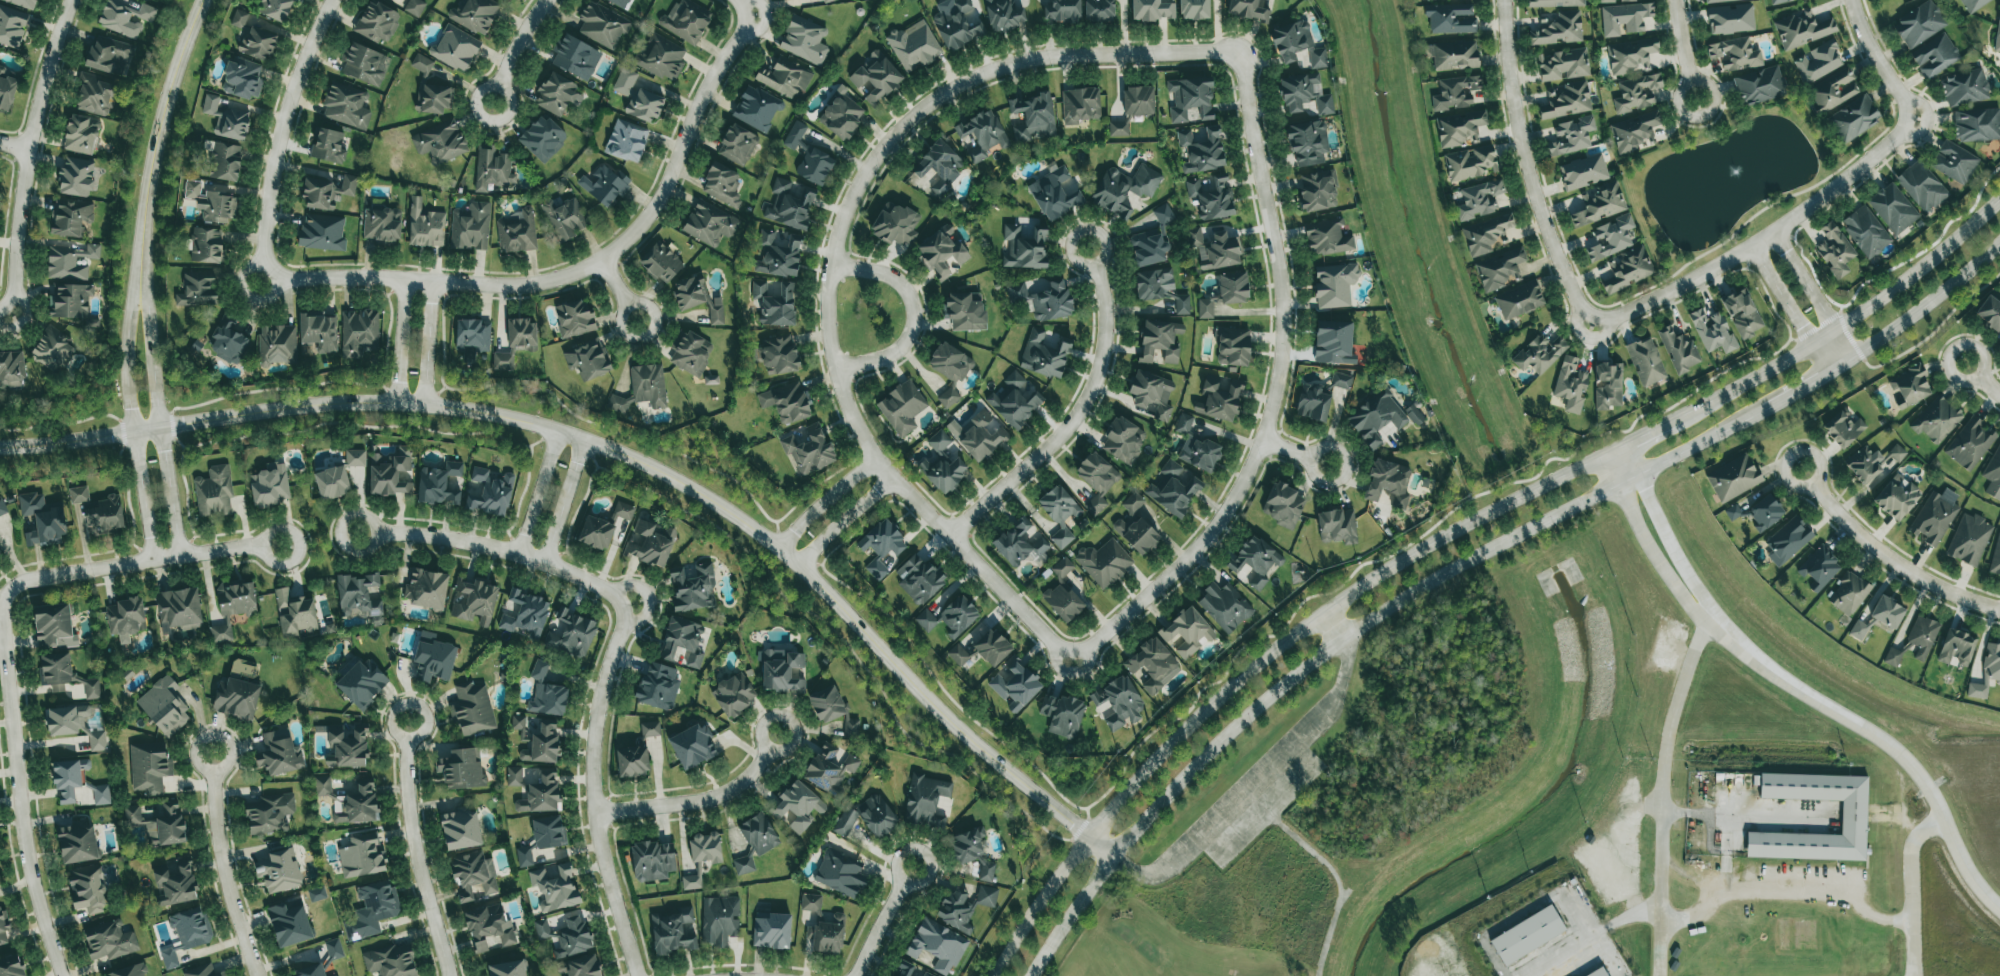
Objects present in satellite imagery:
building: (504, 0)
building: (784, 0)
building: (1719, 0)
building: (827, 1)
building: (1614, 1)
building: (1778, 2)
building: (22, 3)
building: (619, 3)
building: (1555, 3)
building: (1972, 4)
road: (746, 6)
building: (414, 7)
building: (274, 9)
building: (1193, 9)
building: (1249, 9)
building: (1061, 10)
building: (1098, 10)
building: (1152, 10)
building: (474, 15)
building: (1003, 15)
building: (124, 18)
building: (239, 18)
building: (1450, 18)
building: (1624, 18)
building: (1730, 19)
building: (686, 20)
building: (377, 22)
building: (956, 23)
building: (1919, 24)
building: (602, 25)
building: (12, 26)
building: (1558, 29)
building: (1802, 29)
building: (1998, 35)
building: (804, 40)
building: (257, 43)
building: (914, 45)
building: (1296, 45)
building: (455, 48)
road: (1683, 48)
road: (514, 49)
building: (1734, 54)
building: (109, 55)
building: (1455, 55)
building: (1631, 56)
building: (1935, 56)
building: (575, 57)
building: (1818, 61)
road: (1878, 61)
building: (364, 64)
building: (421, 64)
building: (1562, 65)
building: (784, 77)
building: (876, 77)
building: (242, 78)
building: (624, 82)
building: (1758, 86)
building: (1964, 88)
building: (6, 90)
building: (1833, 90)
building: (1455, 92)
building: (1636, 93)
building: (557, 94)
building: (1304, 94)
building: (94, 95)
building: (435, 98)
building: (1190, 99)
building: (1566, 100)
building: (1138, 101)
building: (644, 105)
building: (1080, 105)
building: (346, 106)
building: (756, 108)
road: (163, 114)
building: (841, 115)
building: (1033, 117)
building: (226, 118)
building: (1853, 119)
building: (1976, 125)
building: (1118, 127)
building: (1459, 128)
road: (280, 129)
building: (1633, 132)
building: (81, 134)
building: (794, 135)
building: (983, 135)
building: (1571, 136)
building: (542, 138)
building: (626, 141)
building: (440, 142)
building: (1307, 142)
road: (14, 145)
building: (737, 145)
building: (328, 146)
building: (1201, 150)
road: (26, 155)
building: (224, 161)
building: (1954, 162)
building: (1470, 163)
building: (814, 166)
building: (938, 166)
road: (1527, 167)
building: (492, 168)
building: (1583, 172)
building: (76, 177)
fountain: (1736, 178)
building: (604, 184)
building: (722, 185)
building: (1921, 186)
building: (1123, 189)
building: (1316, 191)
building: (326, 192)
building: (1054, 194)
building: (1211, 198)
building: (1479, 200)
building: (789, 205)
building: (1600, 205)
building: (1892, 208)
building: (70, 217)
building: (563, 218)
building: (381, 224)
building: (709, 224)
building: (894, 224)
building: (425, 226)
building: (470, 227)
building: (516, 231)
building: (1865, 231)
building: (322, 232)
building: (1486, 234)
building: (1328, 237)
building: (1610, 238)
building: (1152, 240)
road: (1761, 240)
building: (206, 245)
building: (1025, 247)
building: (1214, 249)
building: (1834, 249)
road: (833, 251)
building: (941, 252)
building: (777, 255)
building: (70, 261)
building: (660, 262)
building: (1499, 269)
road: (580, 270)
building: (1629, 270)
building: (1334, 285)
building: (197, 288)
building: (1160, 288)
road: (619, 291)
building: (1225, 293)
road: (245, 294)
road: (1814, 294)
building: (698, 298)
building: (1042, 299)
building: (1519, 300)
building: (70, 301)
building: (774, 304)
road: (1925, 306)
road: (1791, 309)
building: (965, 311)
road: (910, 312)
building: (1742, 313)
building: (1989, 313)
road: (5, 316)
building: (574, 318)
road: (147, 330)
building: (318, 331)
road: (125, 332)
building: (358, 332)
building: (1712, 332)
building: (521, 333)
building: (472, 337)
building: (228, 340)
building: (1160, 340)
road: (400, 342)
building: (1332, 342)
road: (427, 343)
building: (276, 345)
building: (1232, 346)
building: (53, 350)
building: (1679, 350)
road: (1953, 350)
building: (691, 353)
building: (1539, 353)
building: (1044, 354)
building: (777, 355)
building: (587, 359)
building: (502, 361)
building: (1646, 362)
building: (11, 369)
building: (950, 370)
building: (1341, 380)
building: (1570, 384)
building: (1608, 386)
road: (1802, 386)
building: (1910, 386)
building: (643, 388)
road: (1993, 389)
road: (1275, 392)
building: (1151, 393)
building: (1218, 398)
building: (1015, 400)
building: (786, 402)
building: (1311, 403)
building: (901, 408)
building: (1413, 415)
road: (1075, 416)
building: (1376, 418)
building: (1936, 419)
building: (1183, 423)
building: (1843, 428)
building: (977, 435)
building: (1123, 440)
building: (1970, 444)
building: (809, 450)
road: (1294, 452)
building: (1896, 453)
building: (1201, 455)
road: (623, 456)
building: (355, 458)
building: (1864, 464)
building: (942, 465)
building: (391, 474)
building: (1993, 474)
building: (1733, 478)
building: (1096, 479)
building: (332, 482)
building: (1388, 482)
building: (438, 484)
building: (269, 486)
building: (1171, 489)
road: (171, 491)
road: (537, 491)
building: (213, 492)
building: (490, 493)
road: (1526, 493)
building: (78, 495)
road: (140, 496)
building: (1896, 497)
road: (564, 501)
road: (822, 501)
building: (1132, 502)
building: (1283, 505)
building: (2, 507)
building: (1765, 512)
building: (1059, 513)
building: (1732, 513)
building: (106, 514)
building: (1934, 517)
building: (42, 520)
road: (842, 520)
building: (1337, 526)
building: (603, 527)
road: (1663, 531)
building: (1136, 535)
building: (1969, 539)
building: (1788, 540)
road: (1645, 541)
building: (651, 543)
building: (1020, 545)
building: (881, 546)
road: (493, 549)
road: (1887, 556)
building: (1996, 557)
building: (1255, 561)
road: (136, 562)
building: (1103, 562)
building: (1061, 568)
building: (1818, 568)
building: (918, 579)
building: (692, 588)
building: (426, 589)
road: (1410, 594)
building: (1849, 594)
building: (358, 595)
road: (646, 596)
building: (236, 599)
building: (1063, 602)
building: (1225, 606)
building: (178, 609)
building: (1887, 612)
building: (294, 613)
building: (525, 613)
building: (949, 617)
building: (125, 618)
building: (53, 624)
building: (1858, 630)
building: (1187, 631)
building: (220, 633)
building: (571, 634)
building: (682, 641)
building: (1915, 641)
building: (991, 647)
building: (1956, 647)
building: (958, 655)
building: (433, 658)
building: (1153, 665)
building: (539, 670)
building: (782, 671)
building: (1987, 672)
building: (64, 674)
building: (361, 682)
building: (1015, 685)
building: (658, 686)
building: (734, 694)
building: (236, 699)
building: (548, 699)
building: (1118, 702)
building: (164, 706)
building: (472, 710)
building: (833, 710)
building: (1061, 715)
building: (67, 719)
building: (520, 727)
building: (650, 729)
road: (1880, 738)
building: (97, 741)
building: (542, 743)
building: (693, 746)
building: (279, 753)
building: (632, 761)
building: (149, 767)
building: (462, 769)
building: (829, 769)
building: (515, 776)
building: (68, 779)
road: (1251, 780)
building: (322, 786)
road: (592, 789)
road: (1659, 791)
road: (17, 792)
building: (541, 793)
parking lot: (1253, 793)
building: (101, 794)
road: (699, 801)
building: (925, 801)
building: (357, 805)
building: (798, 806)
building: (269, 813)
building: (132, 815)
building: (867, 817)
building: (1854, 817)
building: (165, 826)
building: (460, 828)
building: (548, 831)
building: (759, 834)
building: (77, 841)
building: (705, 848)
road: (414, 851)
building: (972, 852)
building: (362, 855)
building: (524, 856)
building: (652, 861)
building: (743, 865)
road: (222, 866)
building: (280, 871)
building: (840, 873)
building: (473, 875)
building: (692, 880)
building: (175, 884)
building: (555, 887)
building: (87, 889)
road: (1911, 890)
road: (1718, 897)
building: (378, 900)
road: (1038, 905)
building: (963, 906)
road: (1072, 916)
building: (719, 920)
road: (884, 921)
building: (289, 923)
building: (3, 926)
building: (488, 927)
building: (822, 927)
building: (352, 929)
building: (673, 931)
building: (771, 931)
building: (186, 934)
building: (566, 935)
building: (1526, 935)
building: (109, 941)
building: (937, 945)
building: (333, 949)
park: (1152, 949)
building: (390, 961)
building: (11, 967)
building: (582, 967)
building: (507, 969)
building: (905, 969)
building: (310, 970)
building: (128, 971)
building: (203, 971)
building: (1597, 972)
building: (927, 974)
building: (335, 975)

